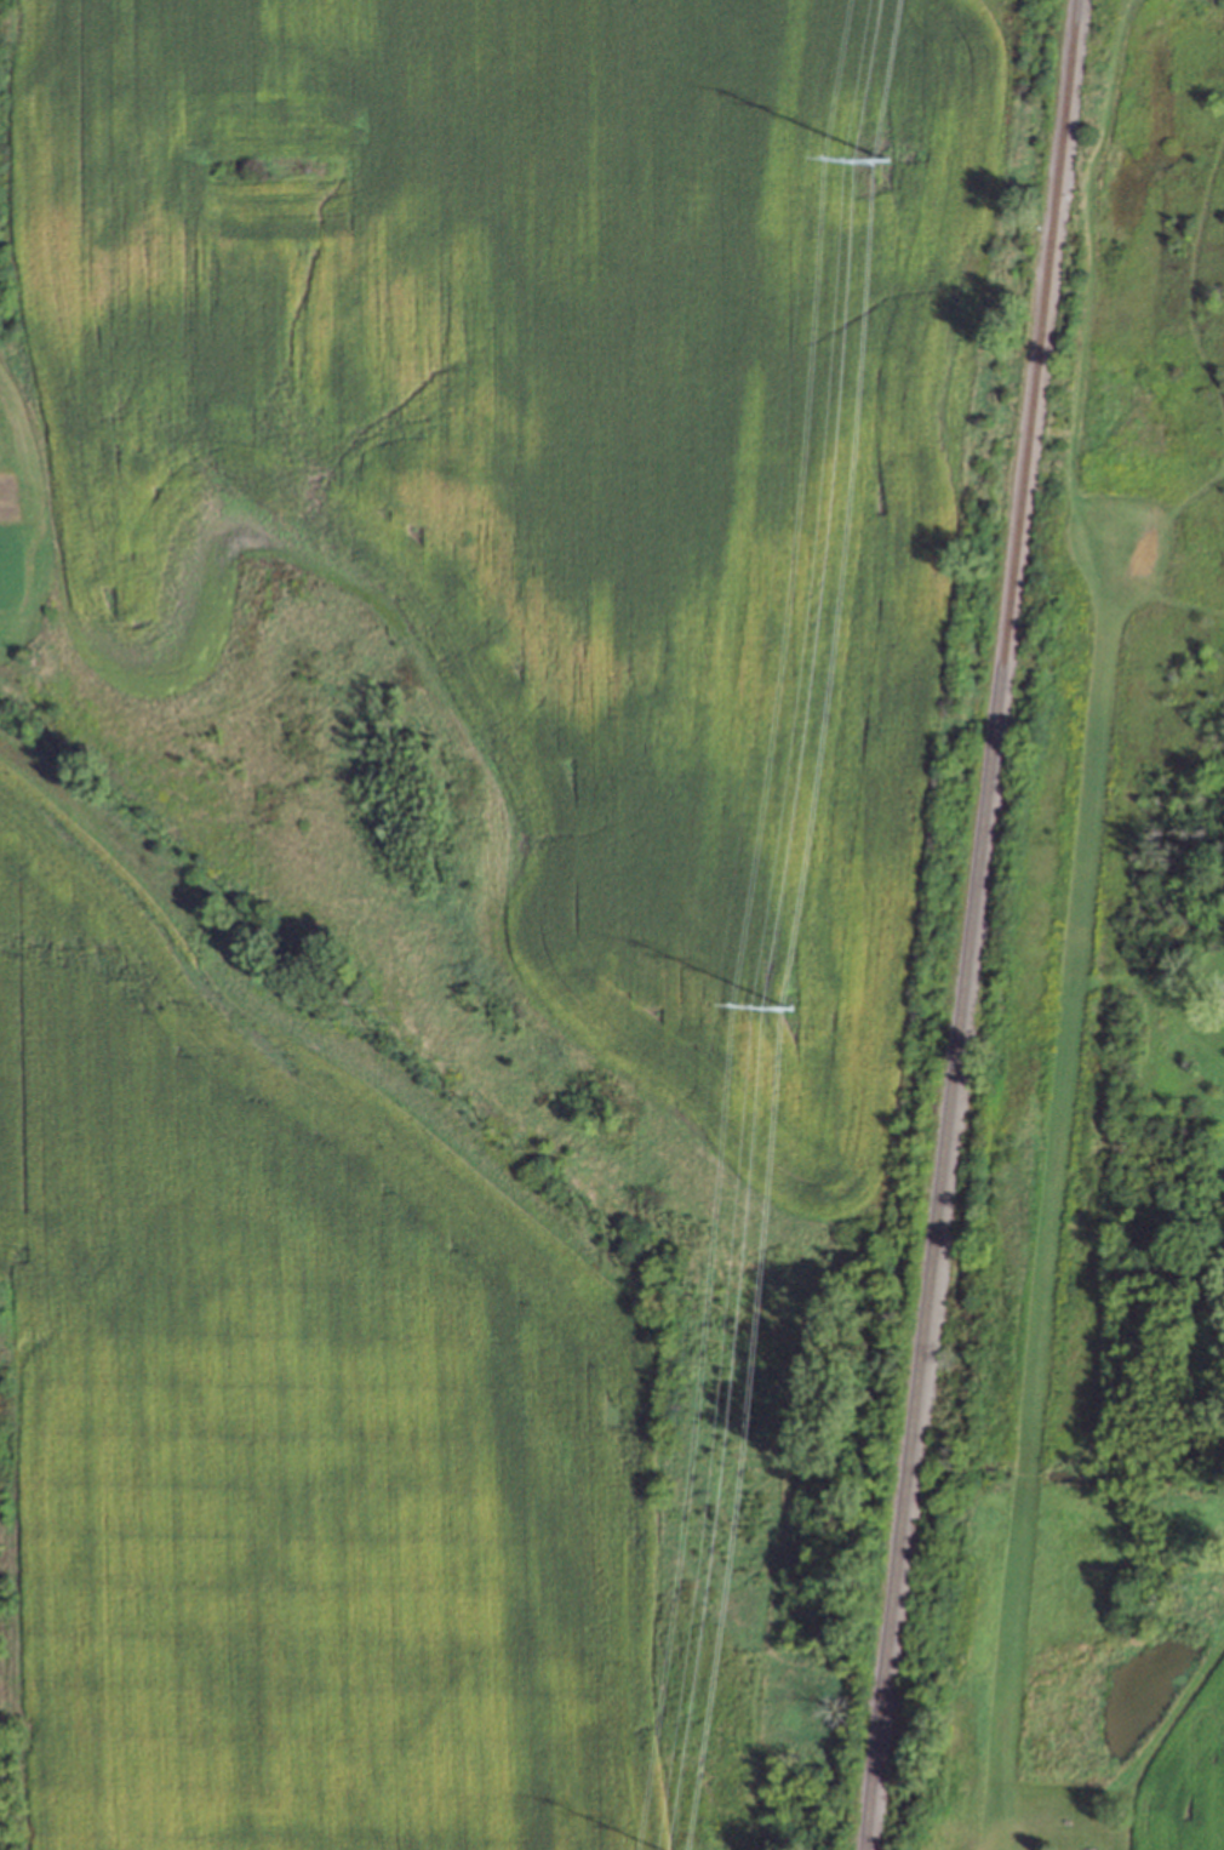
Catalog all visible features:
power tower: (885, 184)
railway: (970, 924)
power tower: (789, 1009)
crop: (303, 1416)
crop: (1069, 1566)
crop: (971, 1686)
crop: (1184, 1771)

